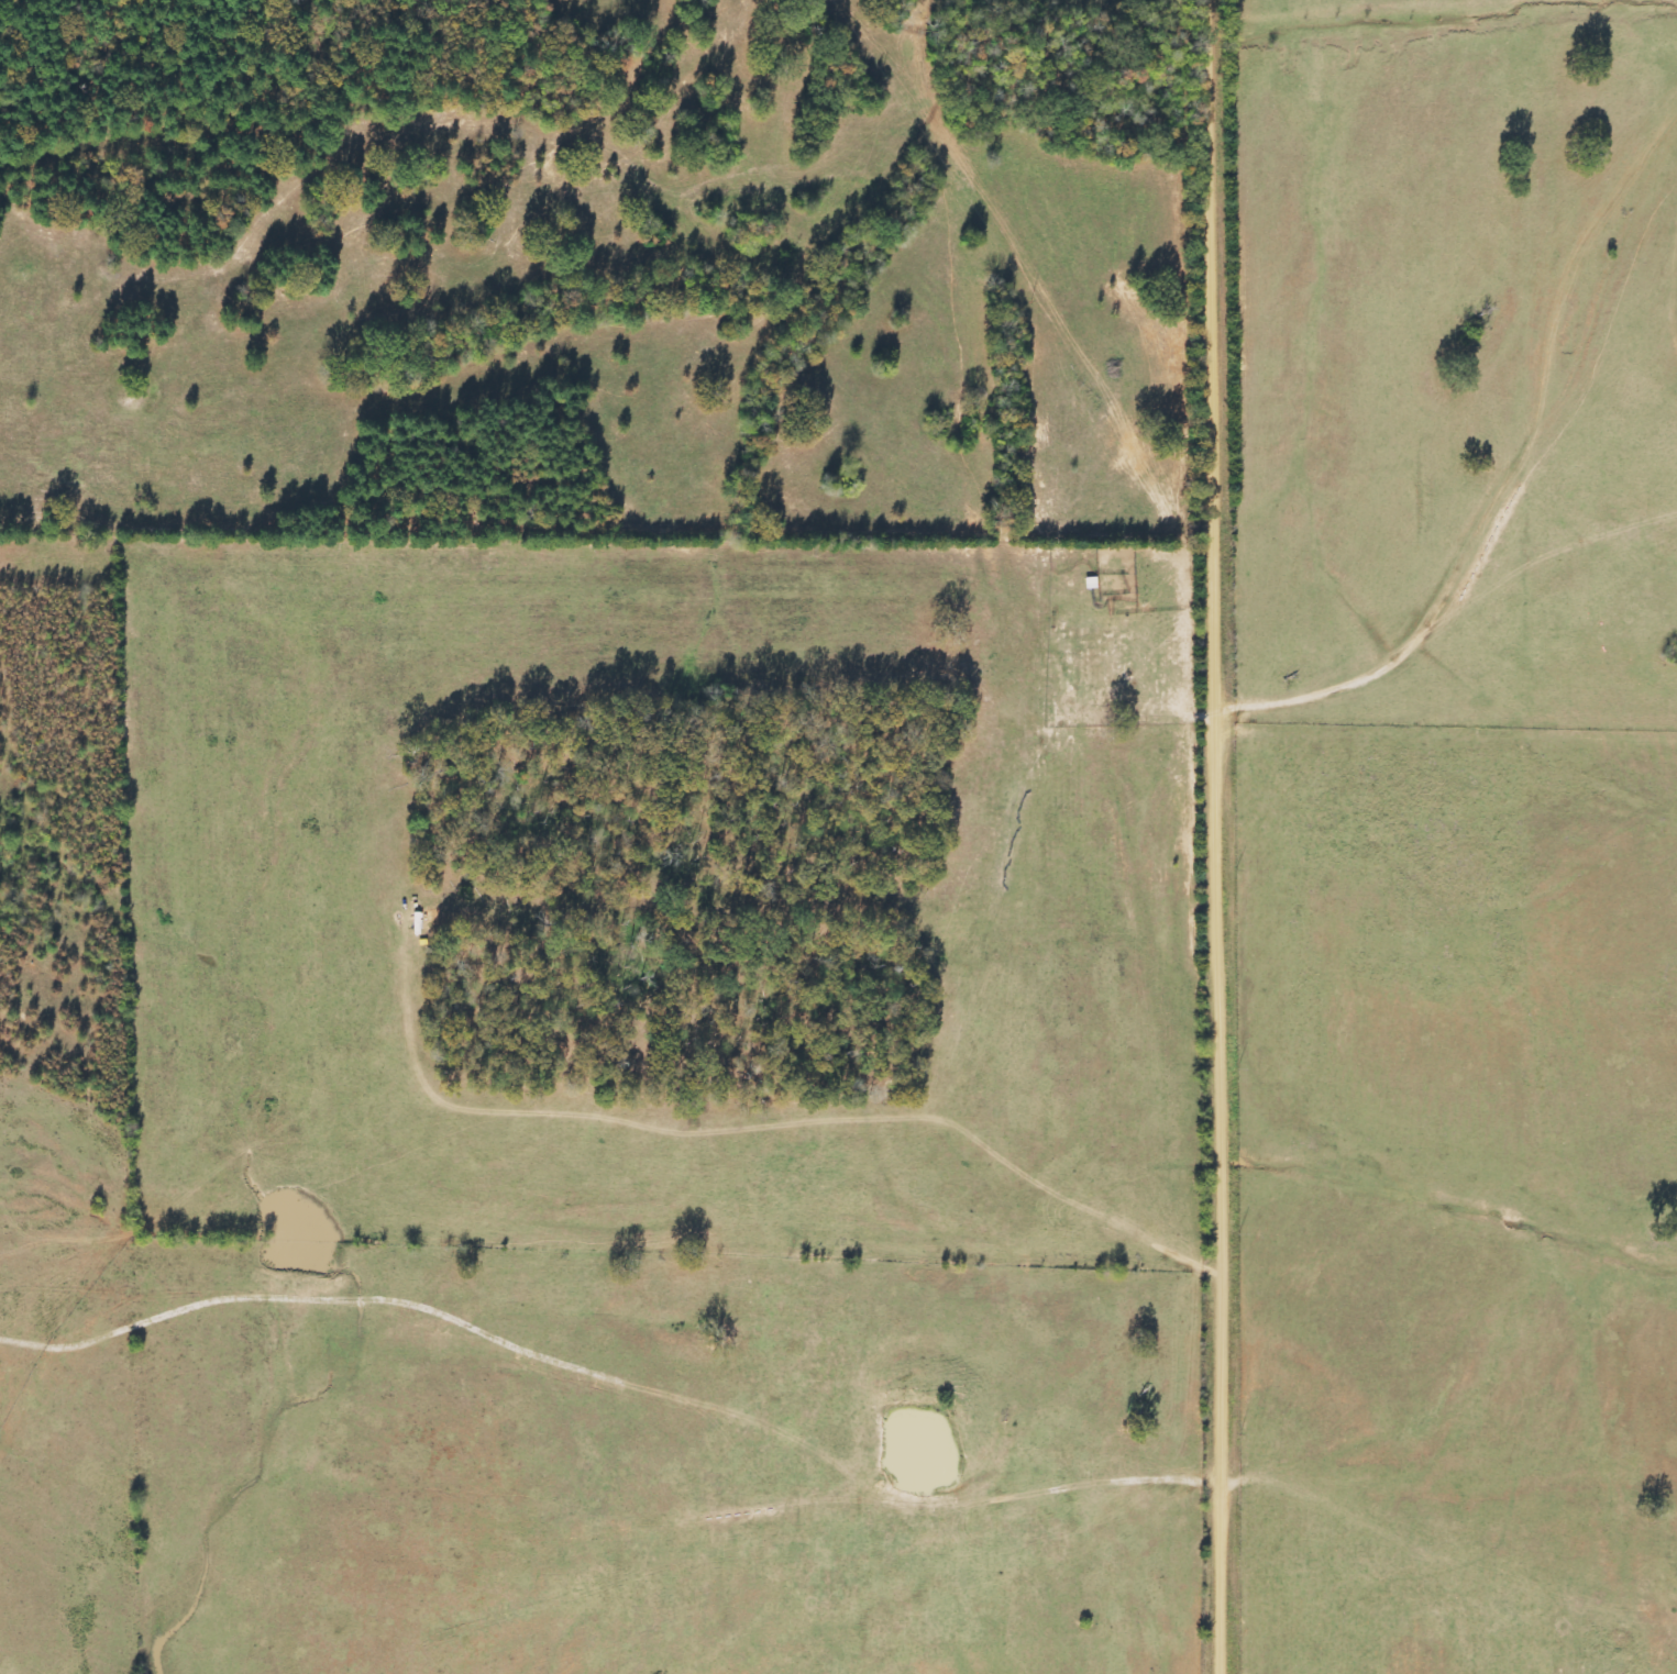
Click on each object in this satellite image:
road: (1213, 836)

